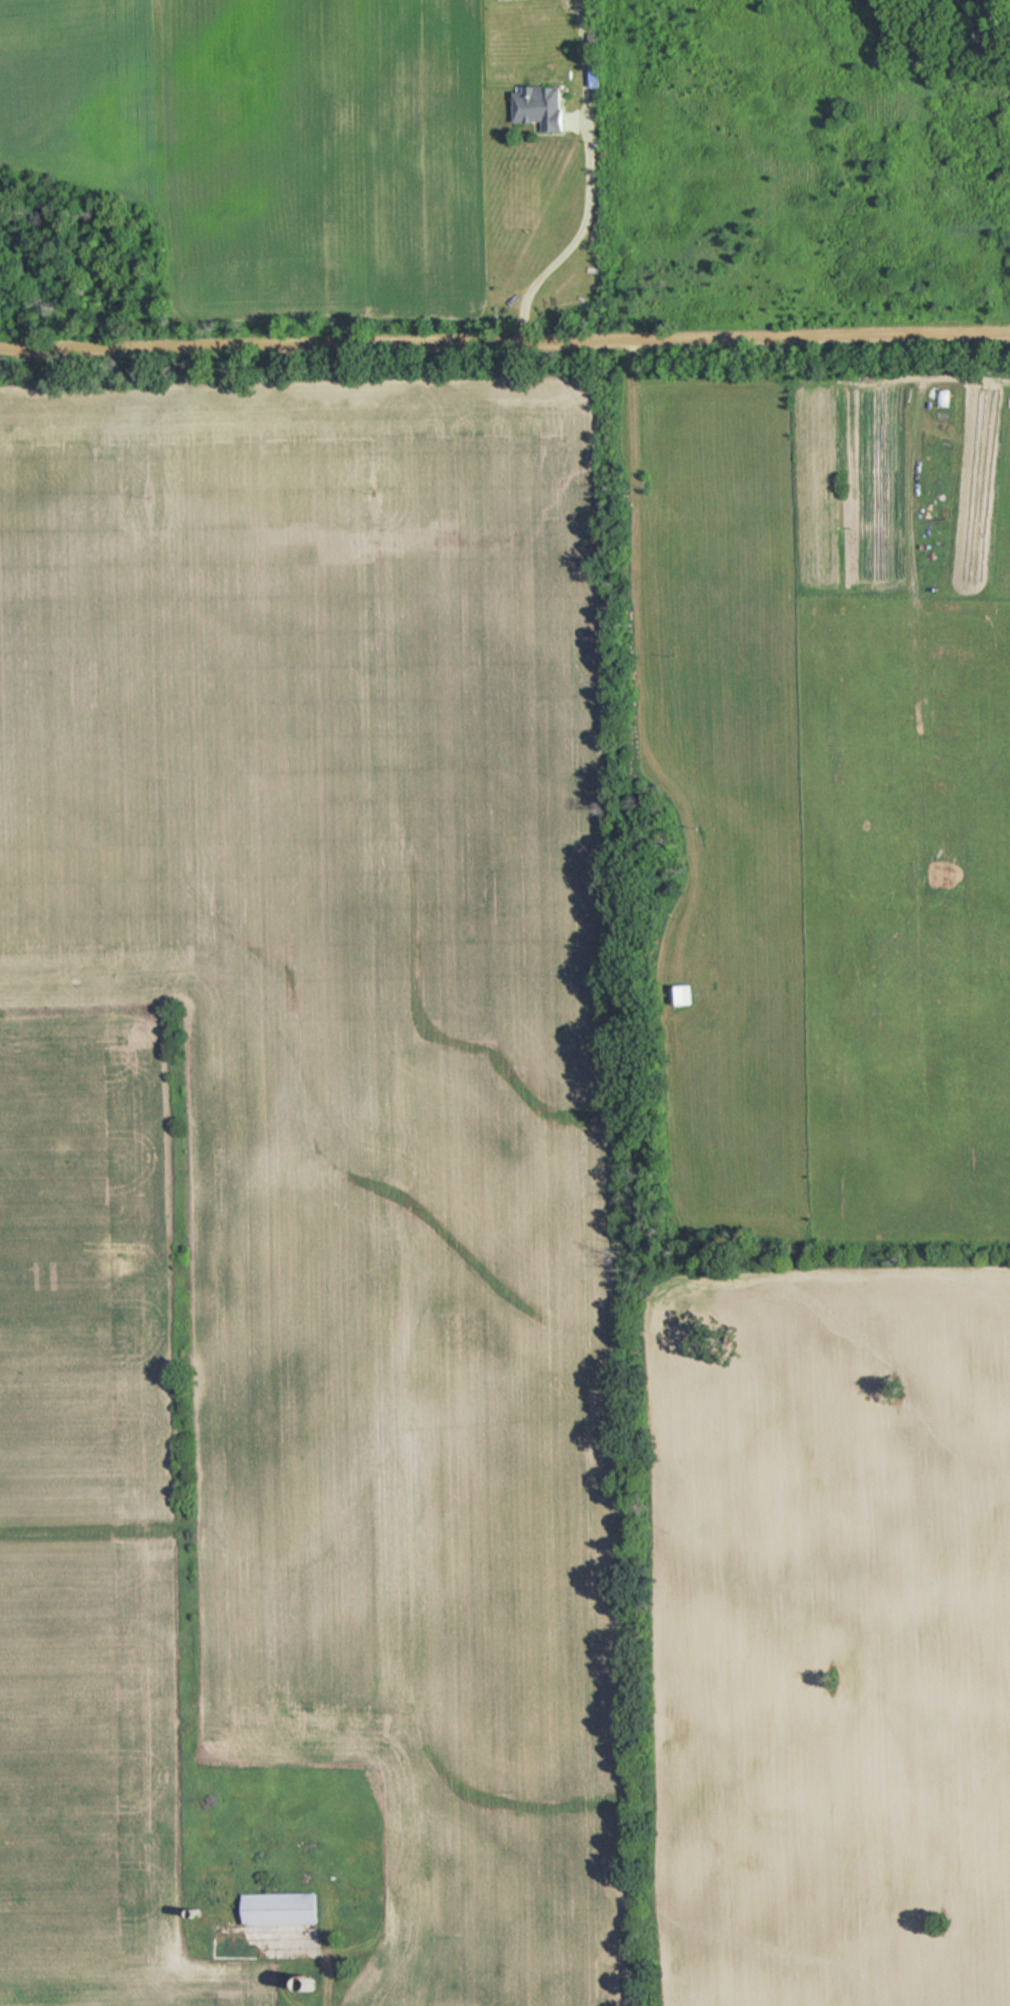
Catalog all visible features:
building: (542, 106)
road: (505, 350)
building: (685, 995)
building: (283, 1908)

